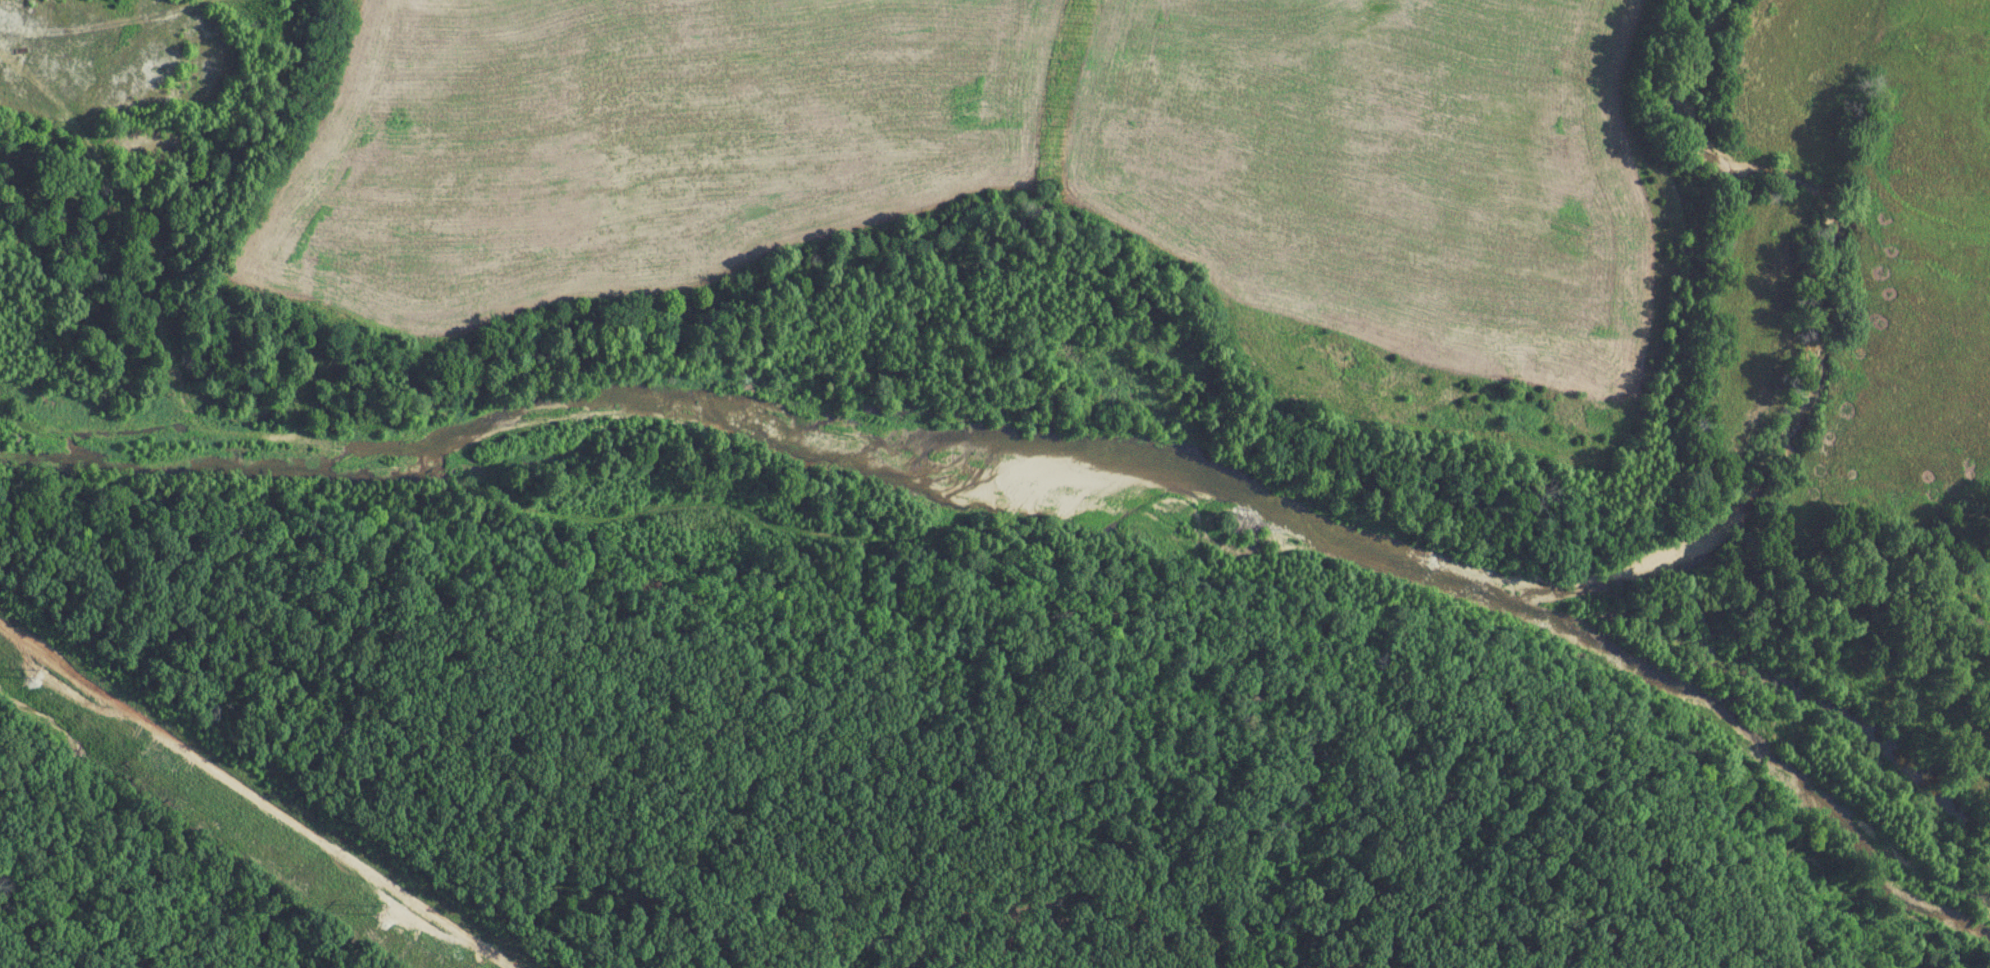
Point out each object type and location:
power tower: (144, 748)
power tower: (415, 928)

